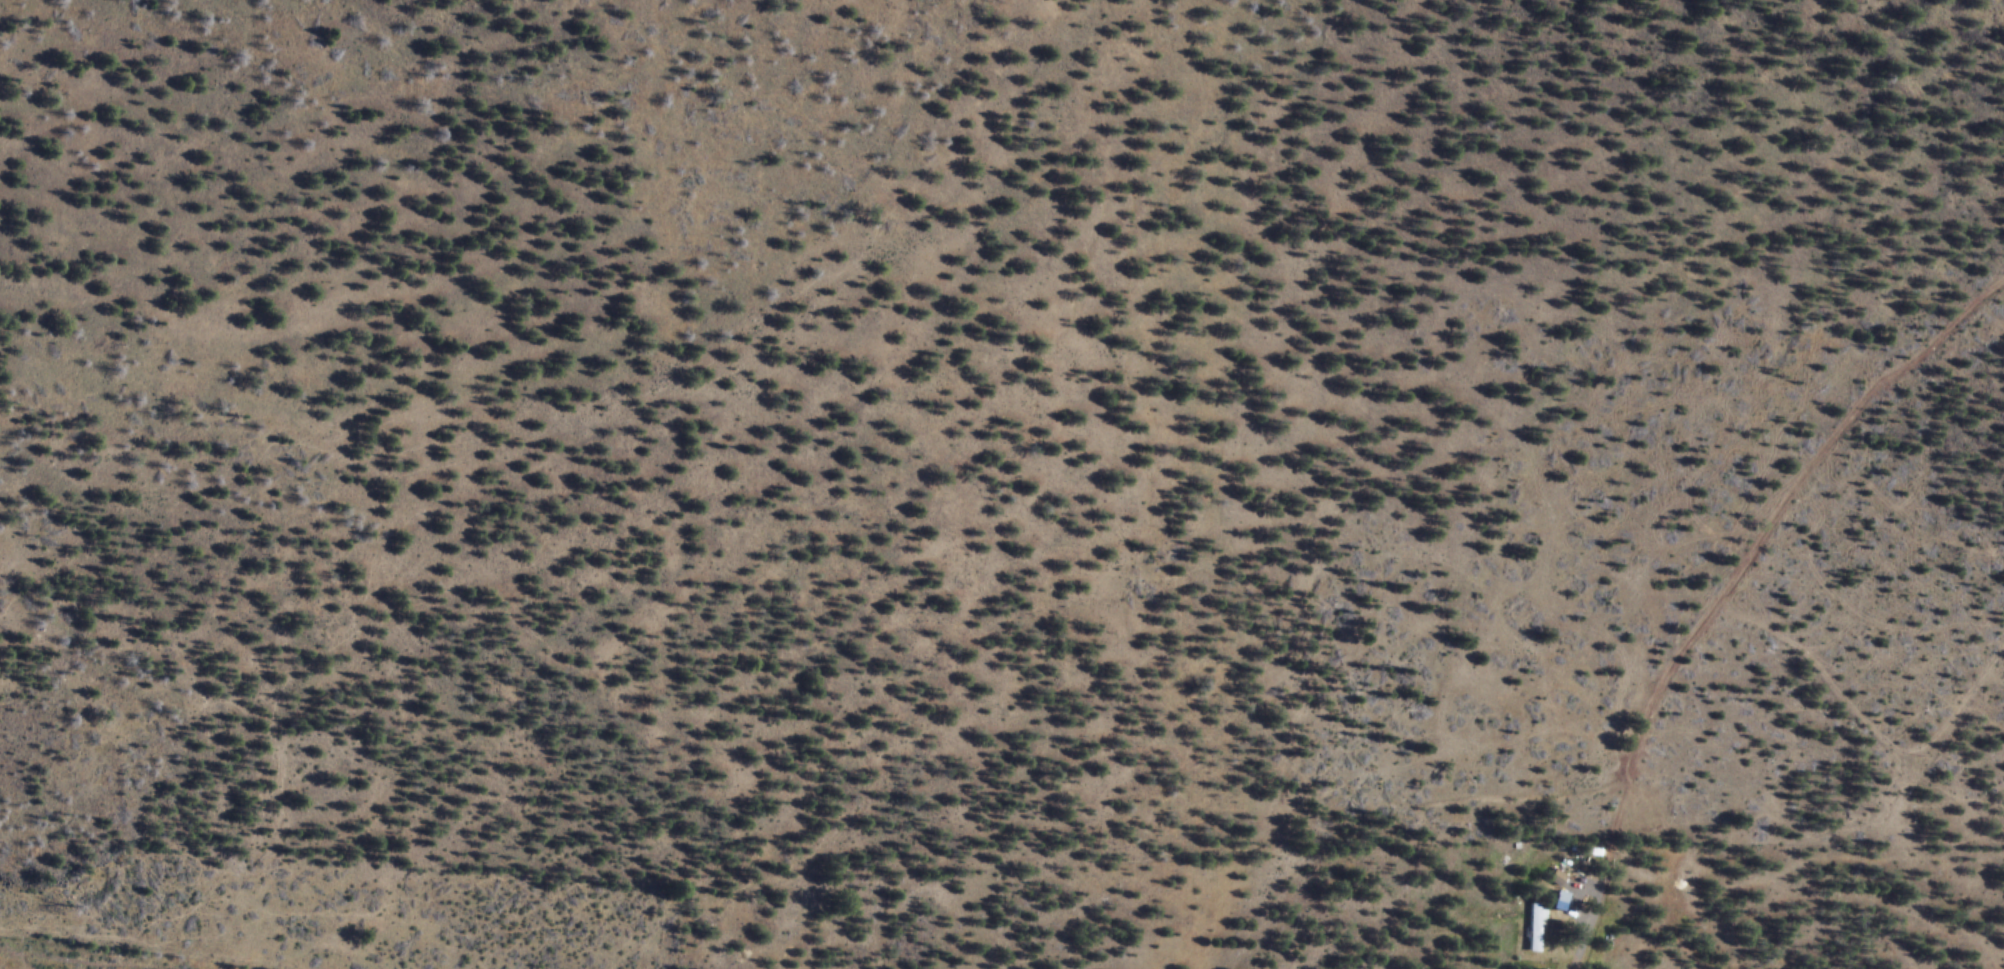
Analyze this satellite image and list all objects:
building: (1560, 877)
building: (1537, 926)
road: (1587, 929)

